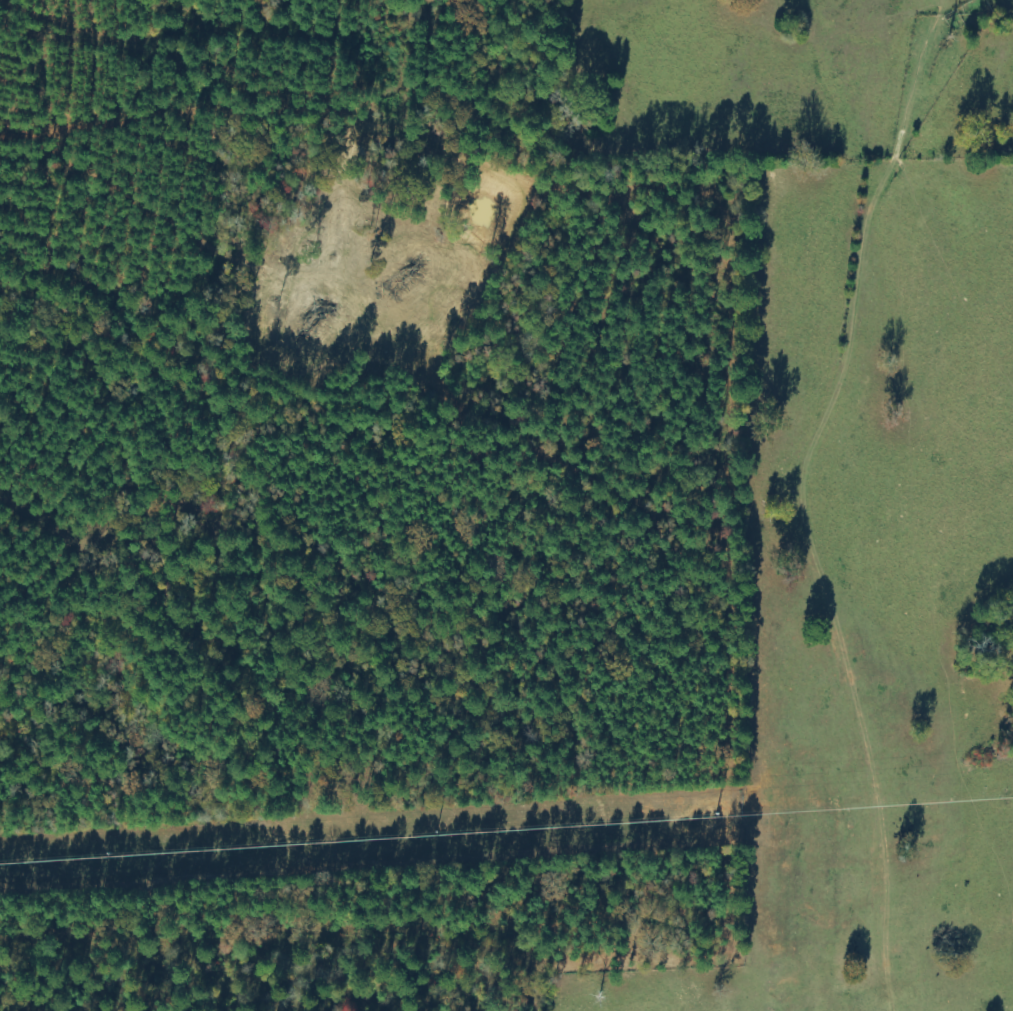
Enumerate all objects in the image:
power tower: (1008, 799)
power tower: (708, 818)
power tower: (444, 836)
power tower: (127, 857)

